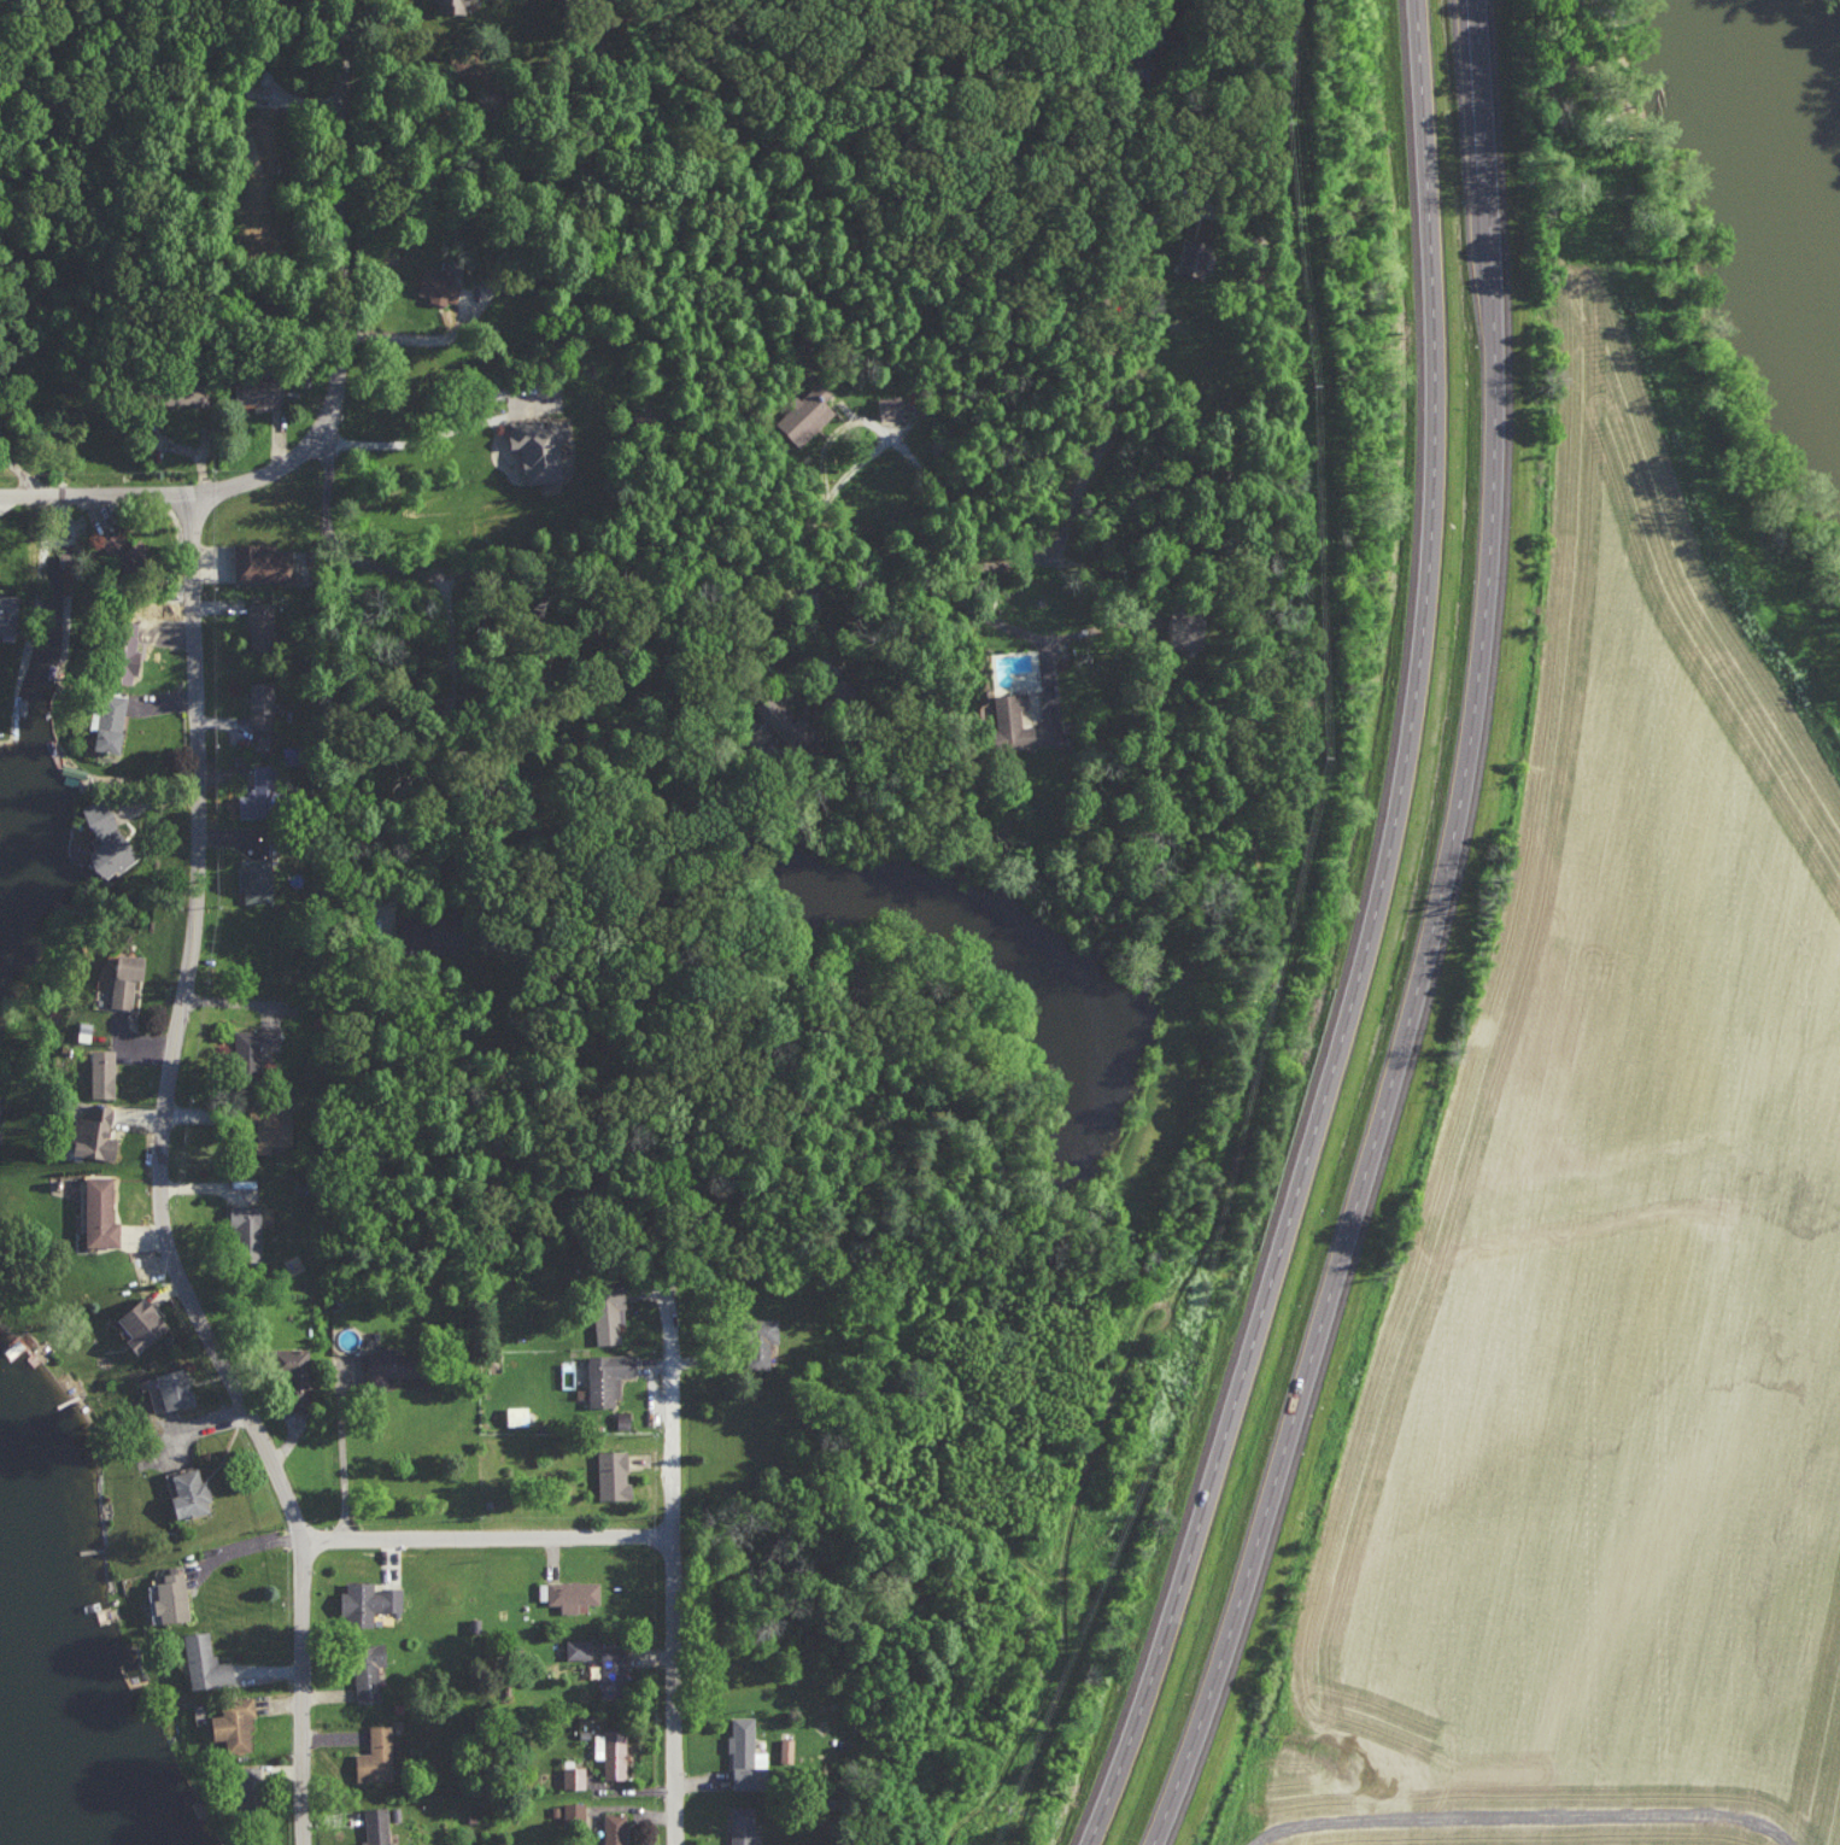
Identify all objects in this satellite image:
building: (453, 5)
river: (1786, 104)
building: (1185, 256)
building: (441, 285)
road: (344, 292)
road: (414, 336)
road: (1103, 367)
building: (259, 393)
building: (884, 405)
building: (802, 415)
road: (404, 443)
building: (541, 447)
road: (859, 462)
road: (93, 480)
building: (129, 553)
building: (262, 563)
road: (515, 569)
road: (1100, 572)
building: (10, 613)
building: (1166, 625)
building: (263, 626)
building: (131, 651)
building: (832, 690)
building: (263, 705)
building: (112, 722)
building: (781, 722)
building: (1004, 722)
road: (410, 780)
building: (259, 793)
building: (107, 838)
building: (258, 878)
building: (433, 933)
road: (1360, 939)
road: (1428, 939)
building: (129, 976)
building: (254, 1042)
building: (104, 1071)
building: (269, 1129)
building: (98, 1131)
road: (160, 1177)
building: (101, 1211)
building: (246, 1216)
building: (609, 1311)
building: (145, 1323)
building: (393, 1363)
building: (301, 1371)
building: (609, 1376)
building: (176, 1387)
building: (520, 1413)
road: (678, 1417)
road: (342, 1452)
building: (614, 1472)
building: (191, 1492)
road: (487, 1540)
building: (572, 1593)
building: (174, 1597)
building: (370, 1600)
building: (579, 1647)
building: (207, 1662)
building: (370, 1670)
building: (614, 1673)
road: (678, 1694)
building: (236, 1723)
building: (787, 1749)
building: (613, 1751)
building: (377, 1755)
building: (748, 1755)
building: (574, 1814)
road: (1520, 1817)
building: (743, 1824)
building: (377, 1826)
building: (616, 1828)

